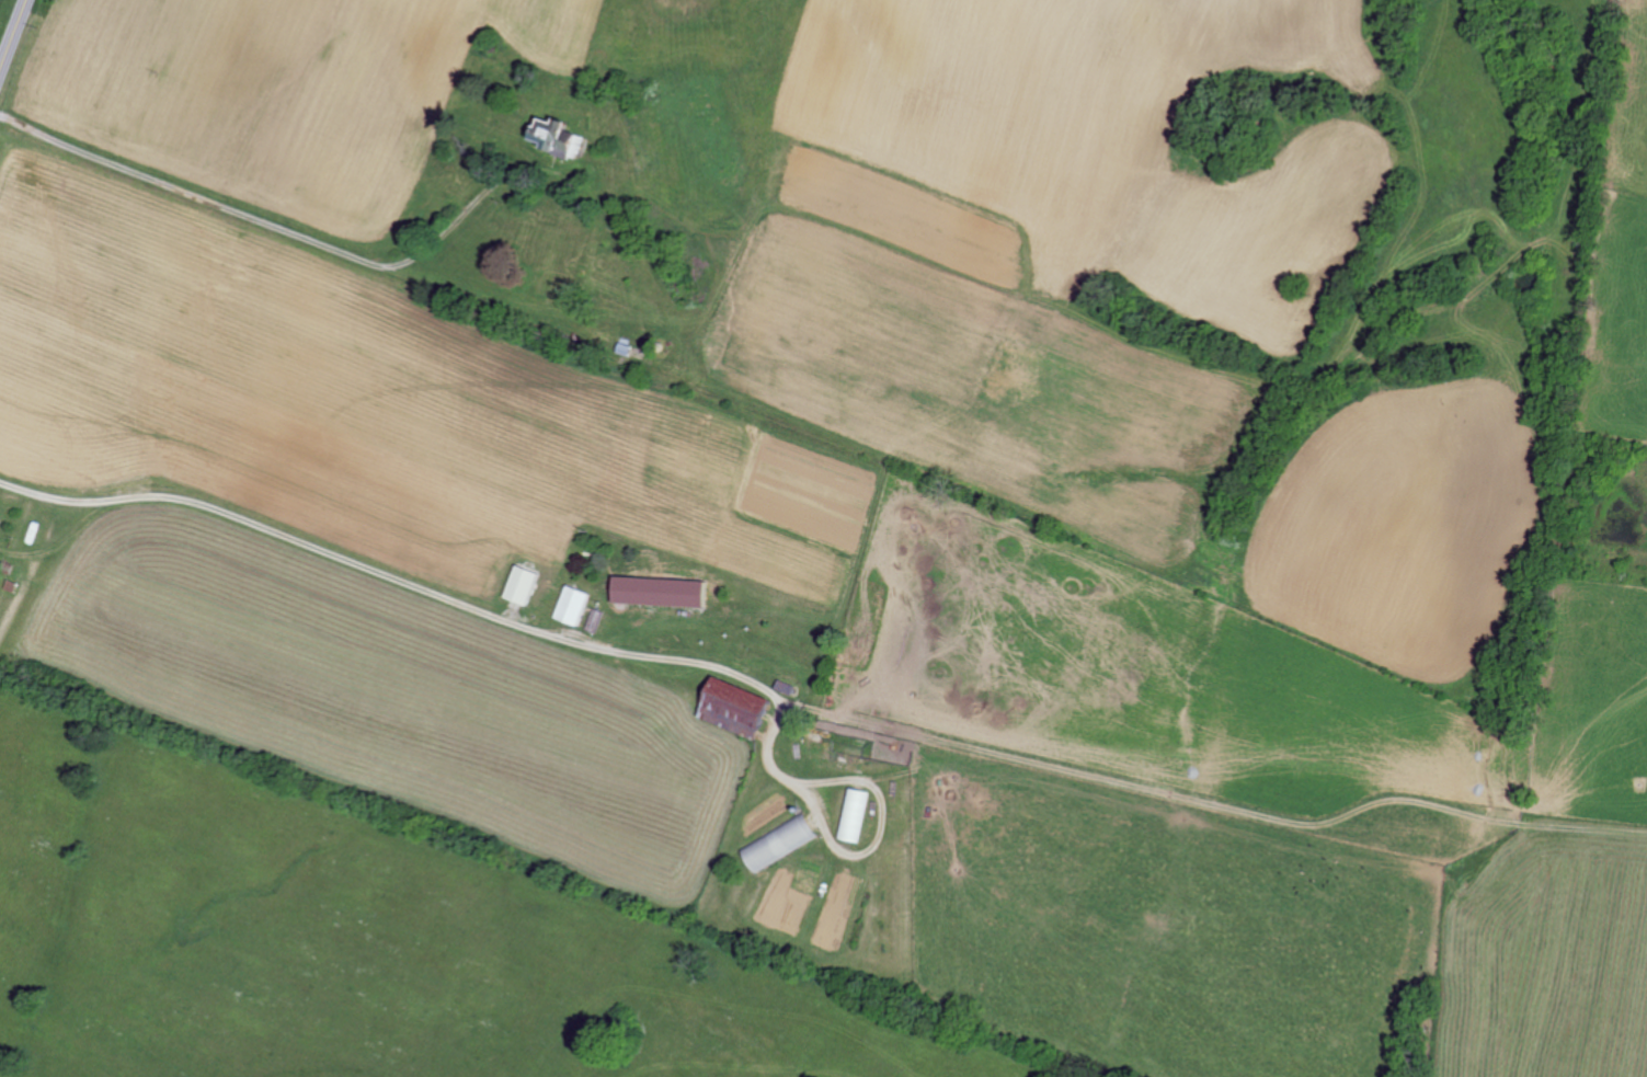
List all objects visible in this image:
road: (12, 35)
building: (554, 136)
road: (266, 219)
building: (521, 585)
building: (654, 586)
road: (467, 605)
building: (571, 606)
building: (734, 708)
building: (853, 815)
building: (777, 843)

